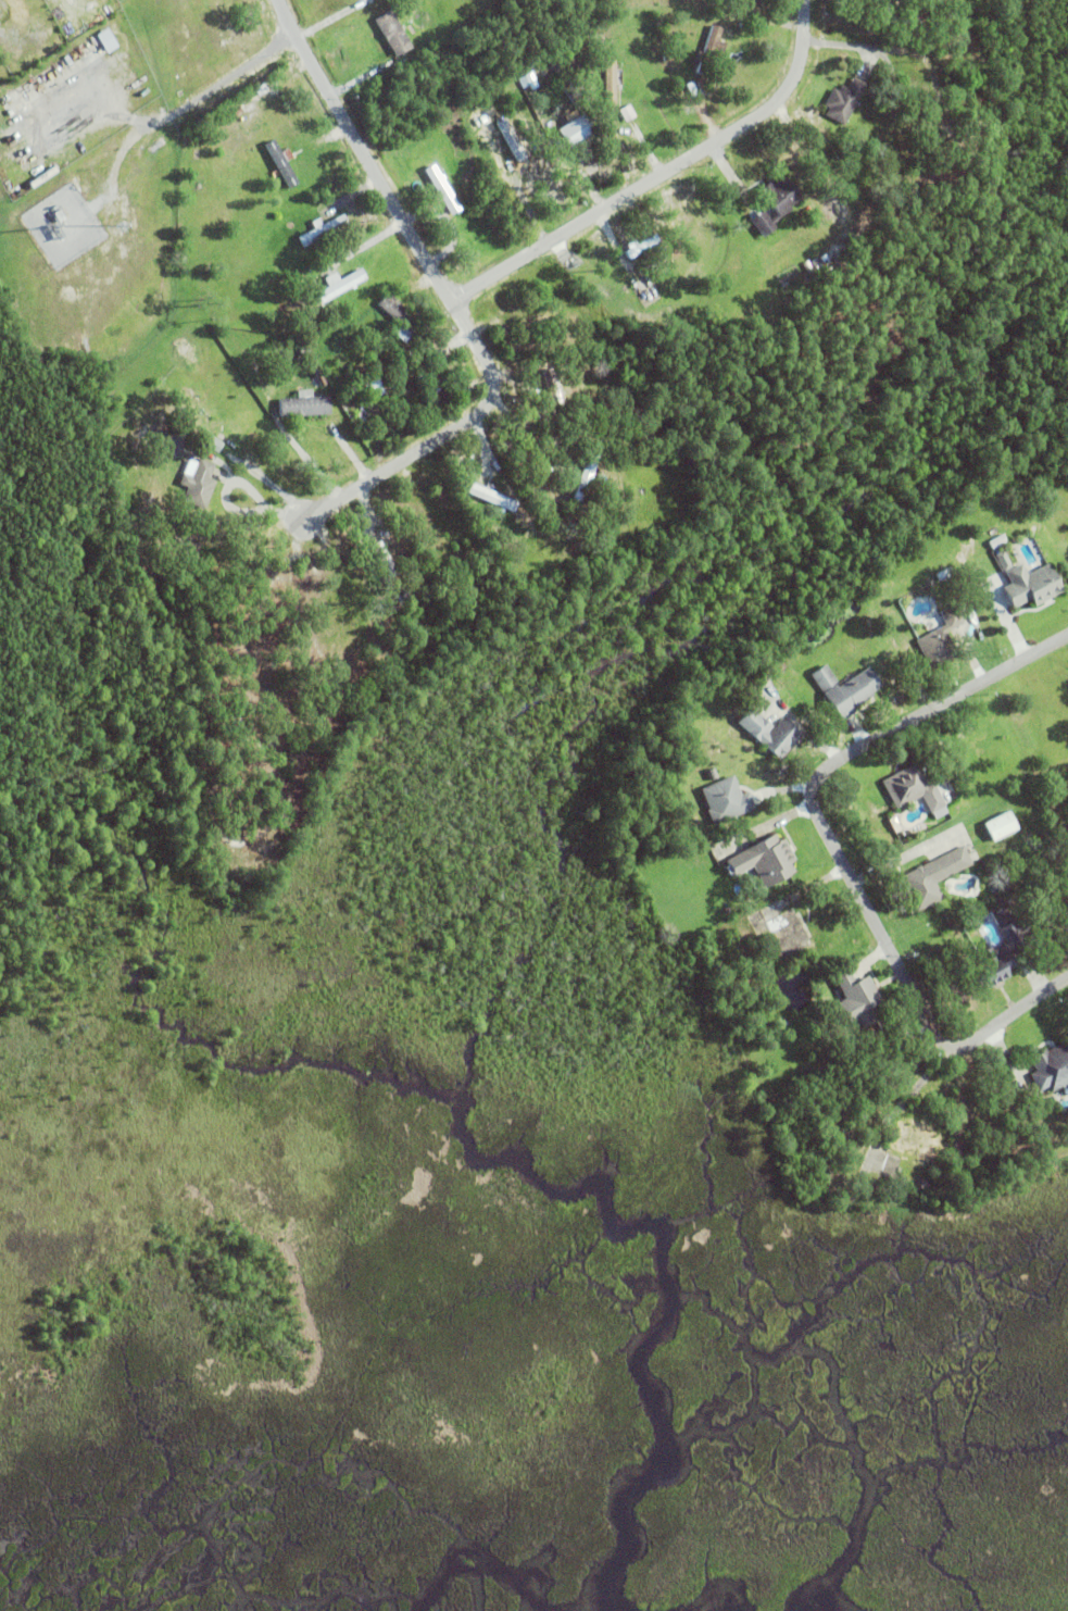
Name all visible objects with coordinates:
building: (356, 1)
building: (878, 8)
building: (731, 16)
building: (904, 20)
building: (391, 32)
building: (106, 39)
building: (708, 49)
road: (857, 53)
building: (667, 57)
building: (612, 75)
building: (720, 82)
building: (693, 90)
road: (196, 99)
building: (843, 100)
building: (891, 111)
building: (627, 113)
building: (568, 124)
building: (511, 139)
road: (805, 145)
building: (932, 145)
building: (280, 163)
building: (913, 168)
building: (893, 173)
road: (661, 174)
building: (440, 188)
building: (775, 204)
building: (58, 214)
building: (820, 225)
building: (324, 229)
building: (56, 230)
building: (826, 230)
building: (809, 267)
building: (338, 284)
road: (453, 303)
building: (532, 309)
building: (399, 317)
building: (361, 374)
building: (319, 378)
building: (434, 382)
building: (555, 388)
building: (303, 404)
building: (413, 404)
building: (171, 440)
building: (212, 444)
building: (585, 477)
building: (198, 485)
building: (493, 497)
building: (1005, 559)
building: (388, 569)
building: (944, 574)
building: (1030, 585)
building: (343, 609)
building: (940, 641)
building: (824, 678)
building: (889, 687)
building: (852, 694)
building: (784, 735)
building: (800, 752)
building: (912, 789)
building: (950, 796)
building: (726, 801)
building: (863, 807)
building: (879, 816)
building: (1003, 824)
road: (835, 848)
building: (766, 860)
building: (933, 878)
building: (957, 909)
building: (1008, 912)
building: (998, 958)
building: (856, 1000)
building: (1066, 1013)
building: (847, 1047)
building: (1051, 1070)
building: (1053, 1144)

